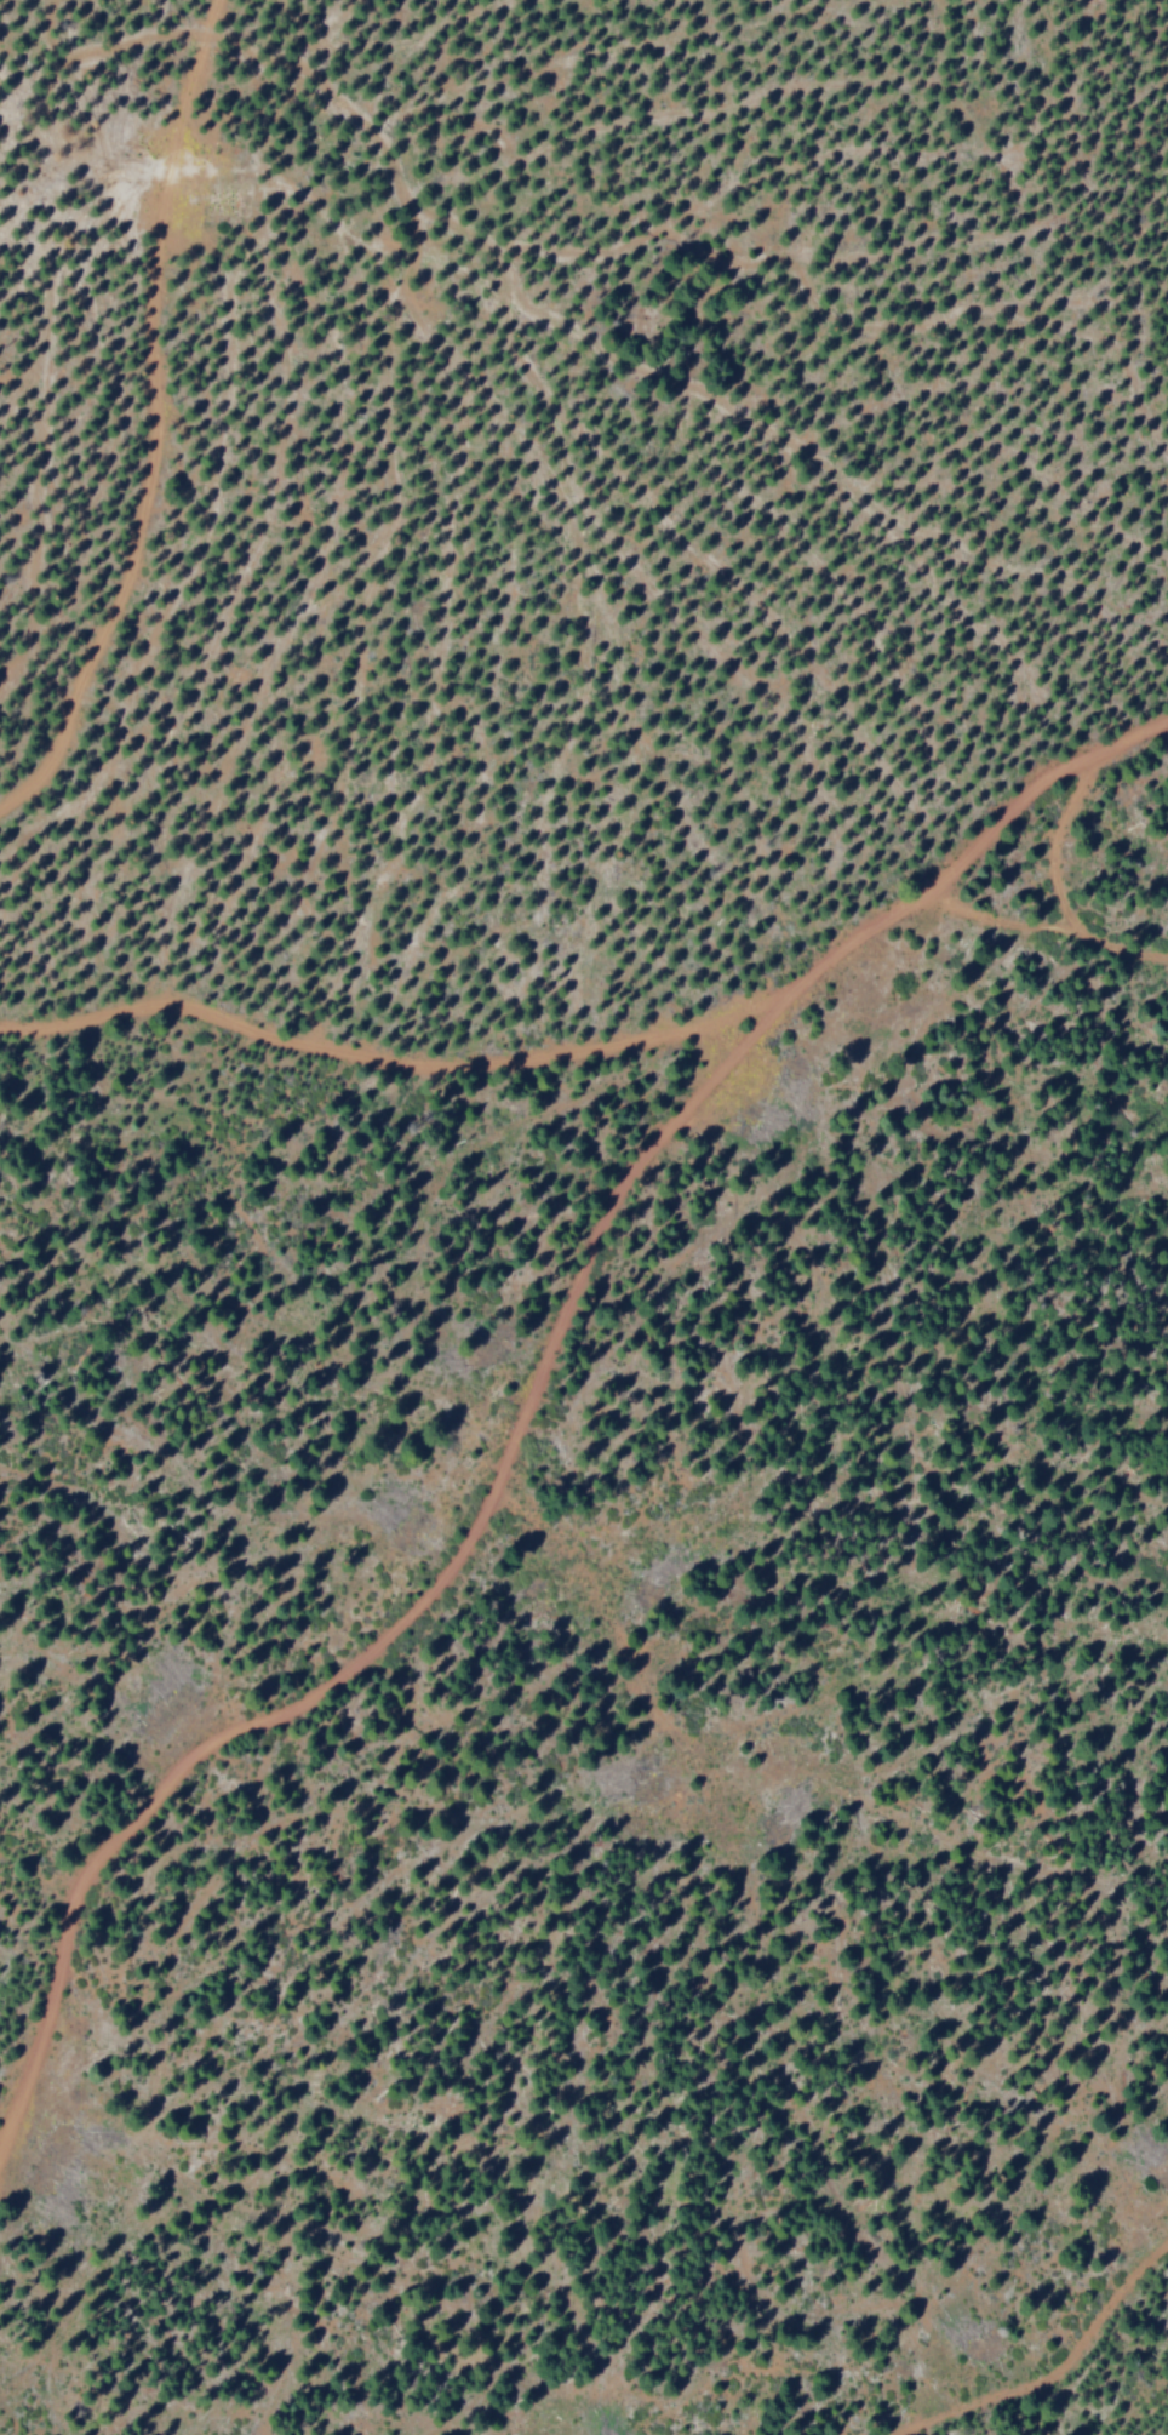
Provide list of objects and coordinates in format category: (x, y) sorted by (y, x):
road: (1036, 925)
road: (407, 1058)
road: (529, 1394)
road: (1048, 2374)

